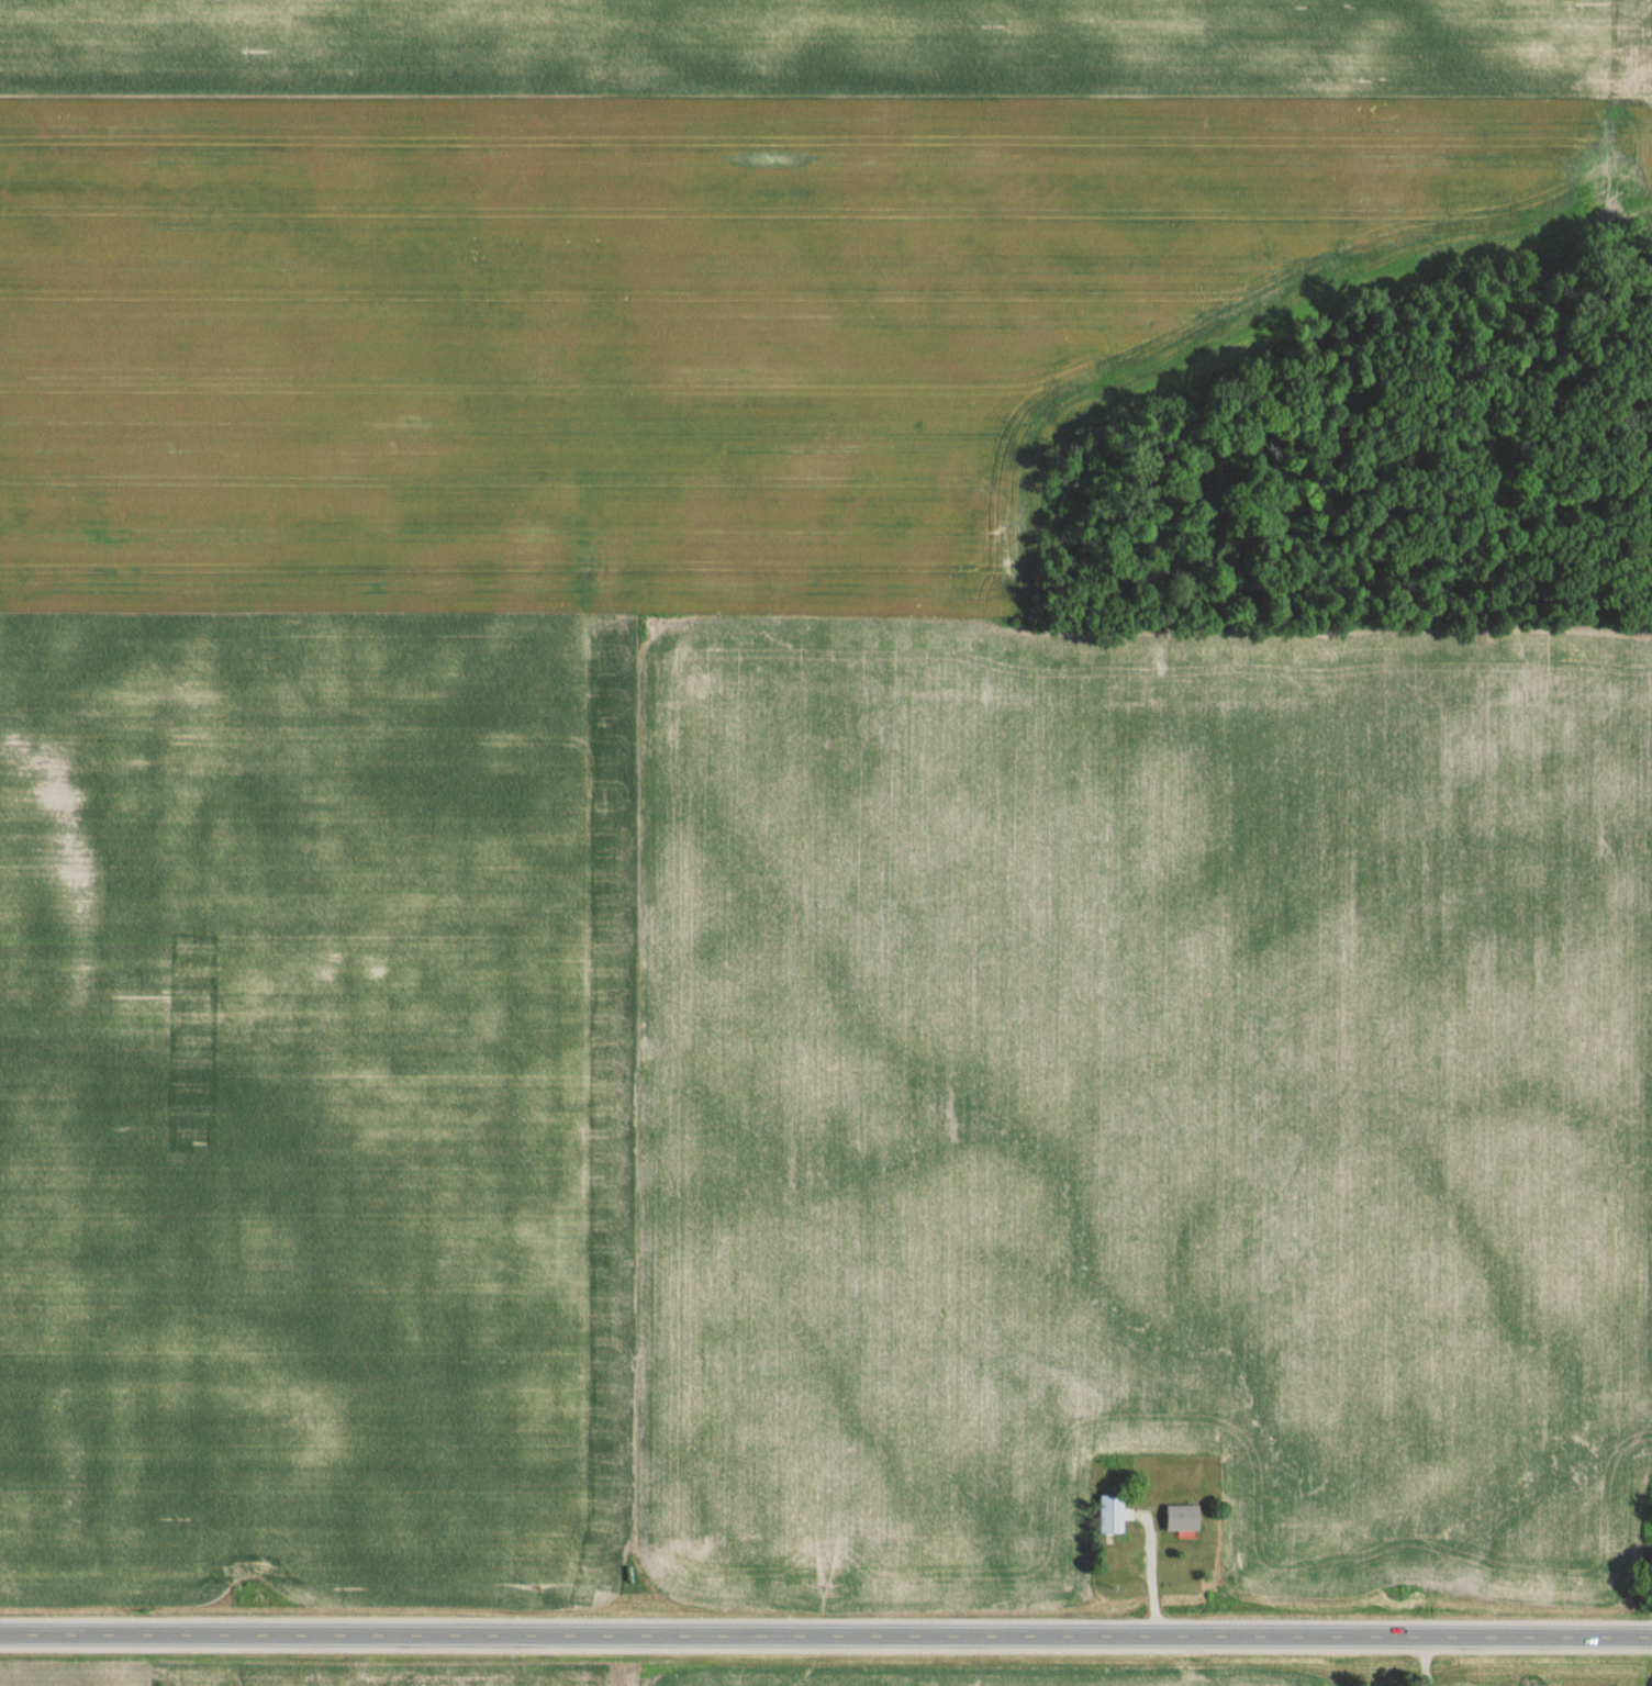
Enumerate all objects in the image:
building: (1113, 1514)
building: (1184, 1517)
road: (1149, 1574)
road: (826, 1634)

